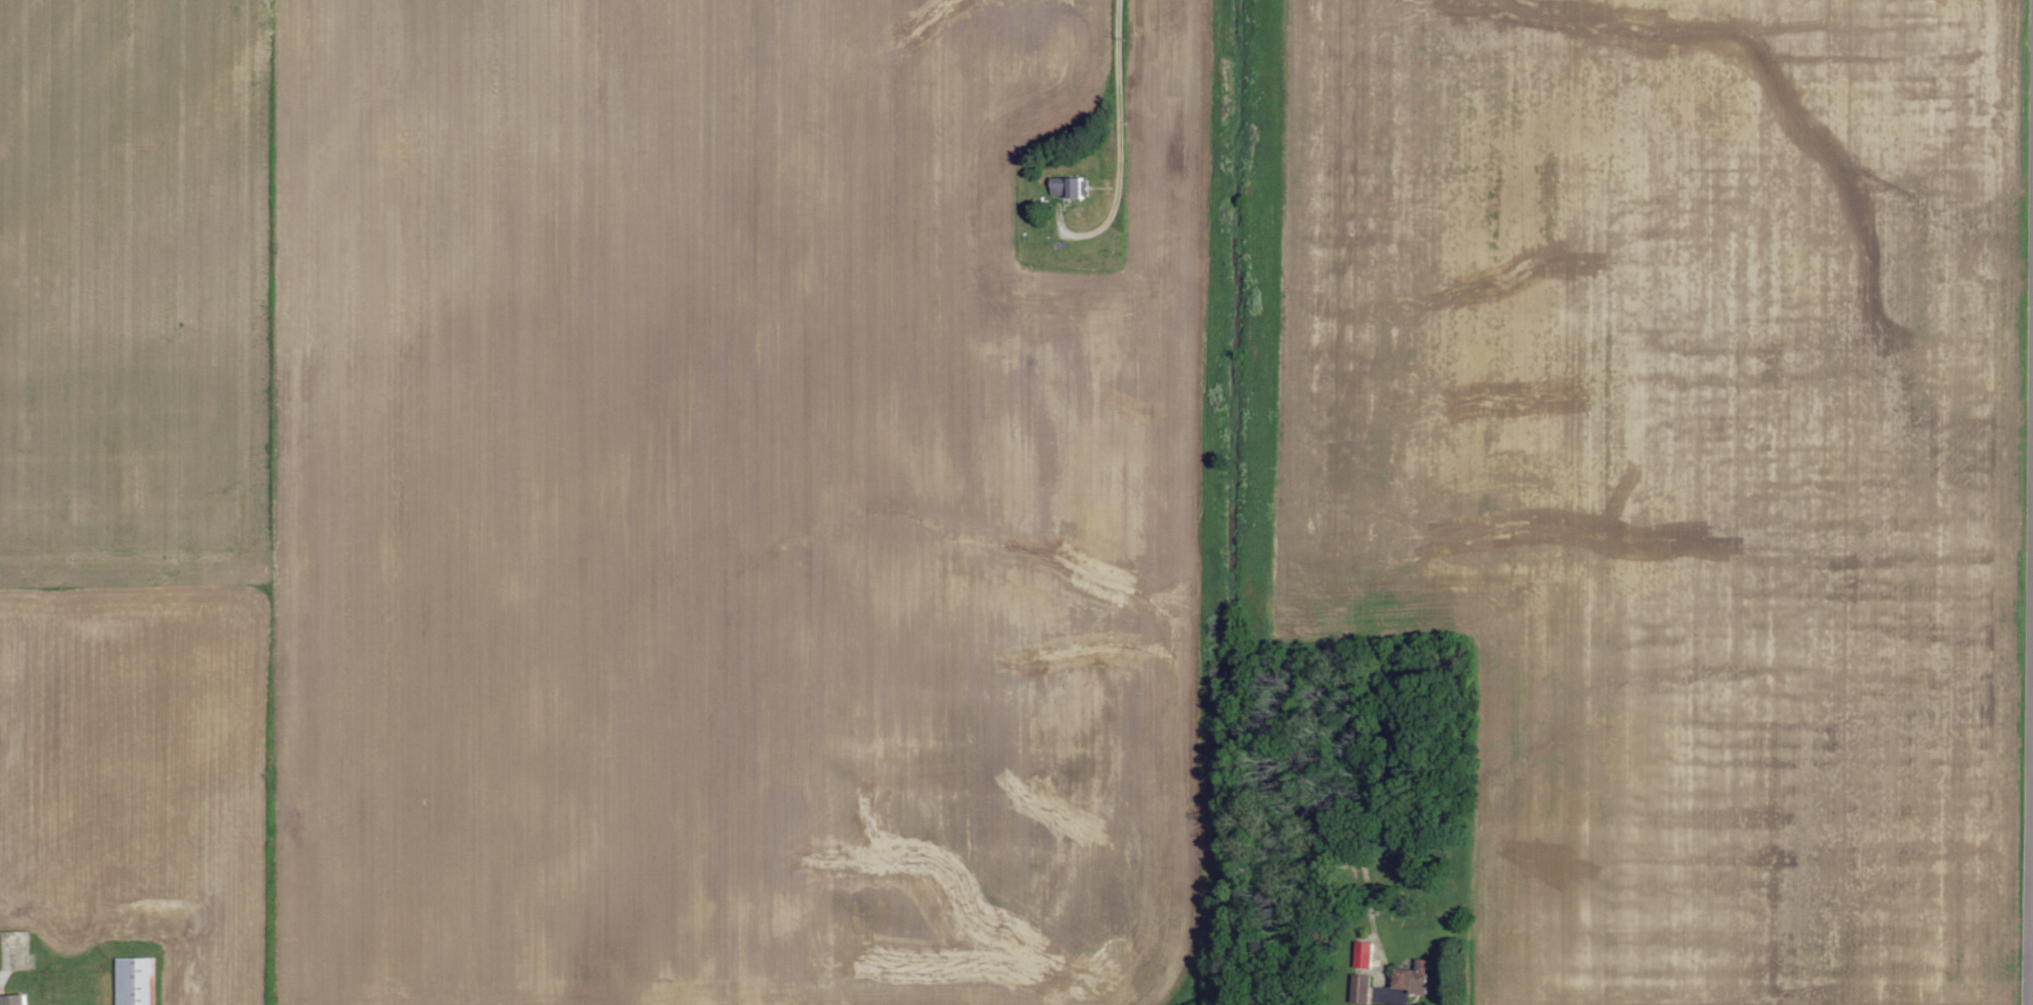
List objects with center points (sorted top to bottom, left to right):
road: (1123, 112)
building: (1067, 188)
road: (2030, 668)
building: (1362, 956)
building: (1410, 979)
building: (134, 981)
building: (10, 999)

